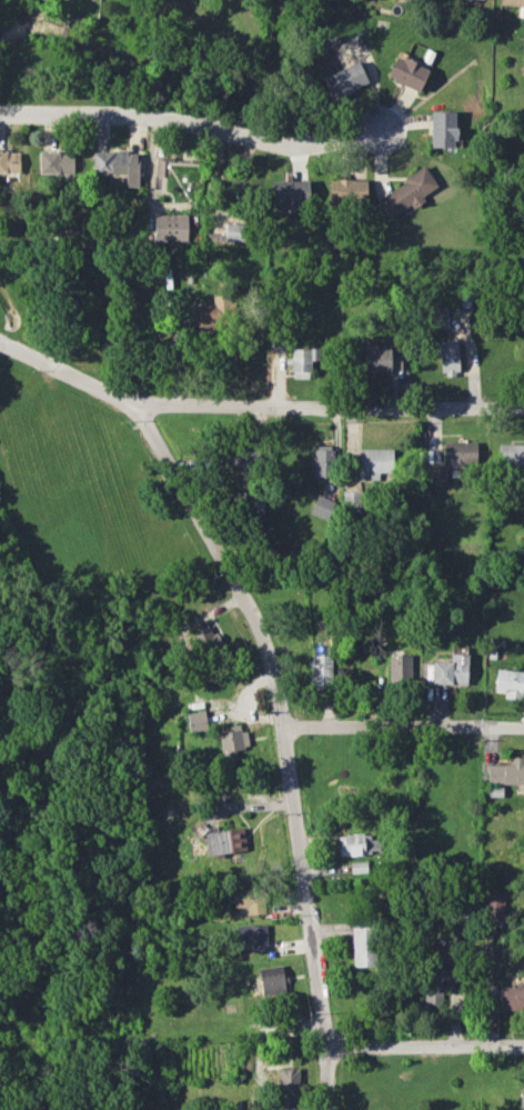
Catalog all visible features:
building: (483, 0)
building: (512, 2)
building: (407, 72)
building: (523, 72)
building: (345, 80)
road: (200, 124)
building: (443, 129)
building: (9, 162)
building: (56, 162)
building: (118, 166)
building: (347, 191)
building: (406, 192)
building: (289, 193)
building: (224, 226)
building: (171, 228)
building: (210, 313)
building: (447, 357)
building: (382, 360)
building: (302, 361)
road: (255, 402)
building: (458, 452)
building: (511, 454)
building: (239, 461)
building: (322, 461)
building: (374, 463)
building: (436, 474)
building: (322, 507)
building: (204, 641)
park: (65, 647)
building: (400, 667)
building: (321, 669)
building: (451, 670)
building: (508, 682)
building: (196, 721)
road: (404, 729)
road: (284, 733)
building: (231, 740)
building: (506, 772)
building: (224, 841)
building: (357, 843)
building: (249, 899)
building: (494, 904)
building: (251, 937)
building: (362, 946)
building: (271, 980)
building: (435, 983)
building: (512, 998)
road: (427, 1046)
building: (288, 1089)
building: (521, 1099)

